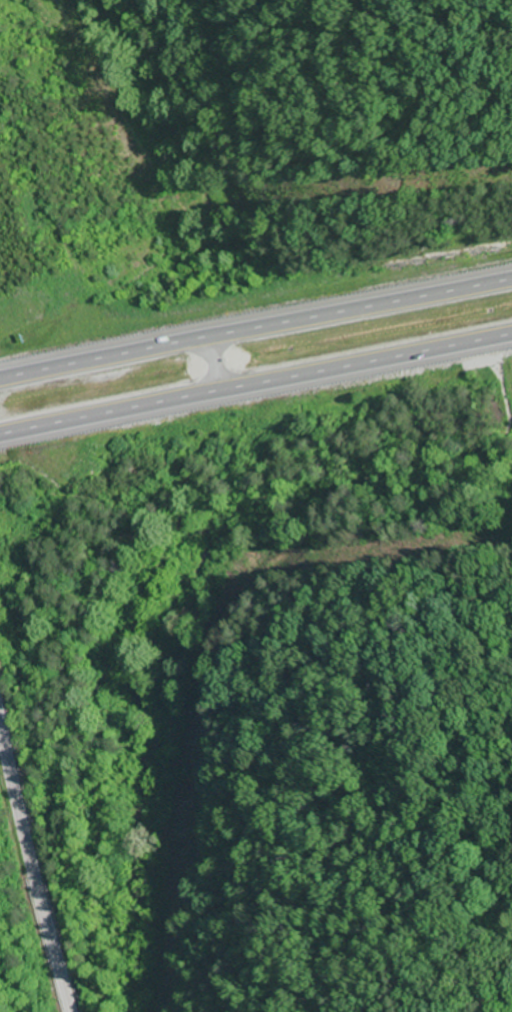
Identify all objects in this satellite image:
road: (256, 327)
road: (256, 388)
road: (32, 859)

